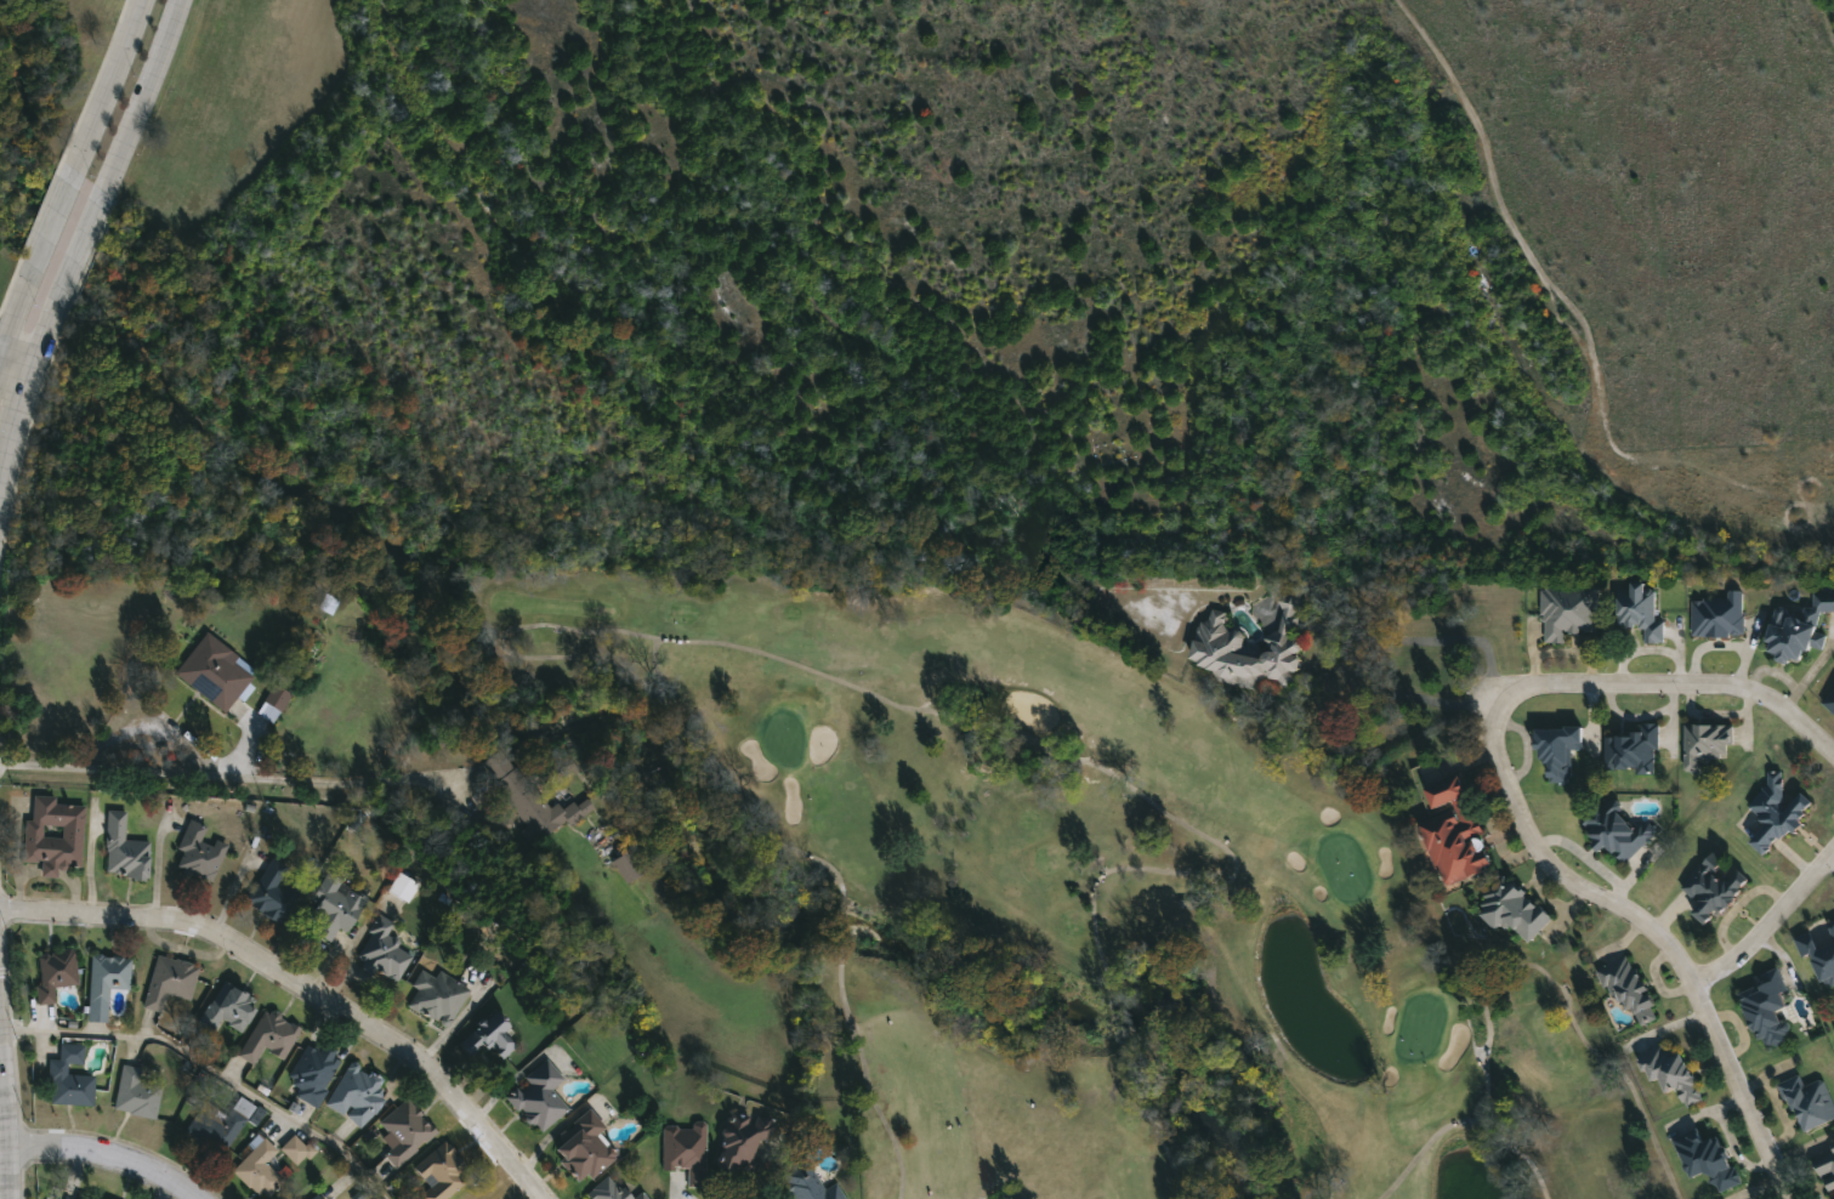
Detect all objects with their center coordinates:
road: (118, 68)
road: (153, 76)
park: (41, 102)
road: (66, 193)
road: (98, 212)
road: (17, 306)
road: (19, 362)
road: (32, 386)
building: (1640, 608)
building: (1568, 609)
building: (1720, 614)
building: (1798, 625)
road: (1424, 638)
building: (1219, 643)
building: (212, 671)
building: (1830, 700)
building: (272, 703)
building: (1707, 744)
building: (1634, 746)
building: (1557, 749)
road: (234, 779)
building: (532, 796)
building: (1776, 812)
road: (1520, 816)
building: (1452, 831)
building: (1618, 831)
building: (52, 835)
building: (123, 848)
building: (197, 852)
building: (628, 864)
building: (1714, 887)
building: (268, 891)
park: (1083, 903)
building: (331, 908)
building: (1512, 909)
park: (1103, 916)
road: (1766, 922)
building: (1821, 950)
building: (384, 951)
building: (53, 972)
building: (106, 976)
building: (169, 979)
building: (1629, 987)
road: (300, 991)
building: (436, 994)
building: (227, 1007)
building: (1768, 1007)
building: (489, 1034)
building: (267, 1035)
road: (221, 1059)
building: (311, 1070)
building: (1669, 1072)
building: (68, 1078)
building: (134, 1092)
building: (353, 1093)
building: (538, 1096)
road: (10, 1097)
building: (1809, 1099)
building: (217, 1126)
building: (404, 1131)
building: (1832, 1136)
building: (739, 1140)
building: (581, 1144)
building: (296, 1150)
building: (686, 1150)
road: (102, 1157)
building: (1708, 1158)
building: (256, 1167)
building: (1827, 1170)
building: (439, 1172)
building: (805, 1183)
building: (612, 1189)
building: (85, 1197)
building: (314, 1197)
building: (101, 1198)

